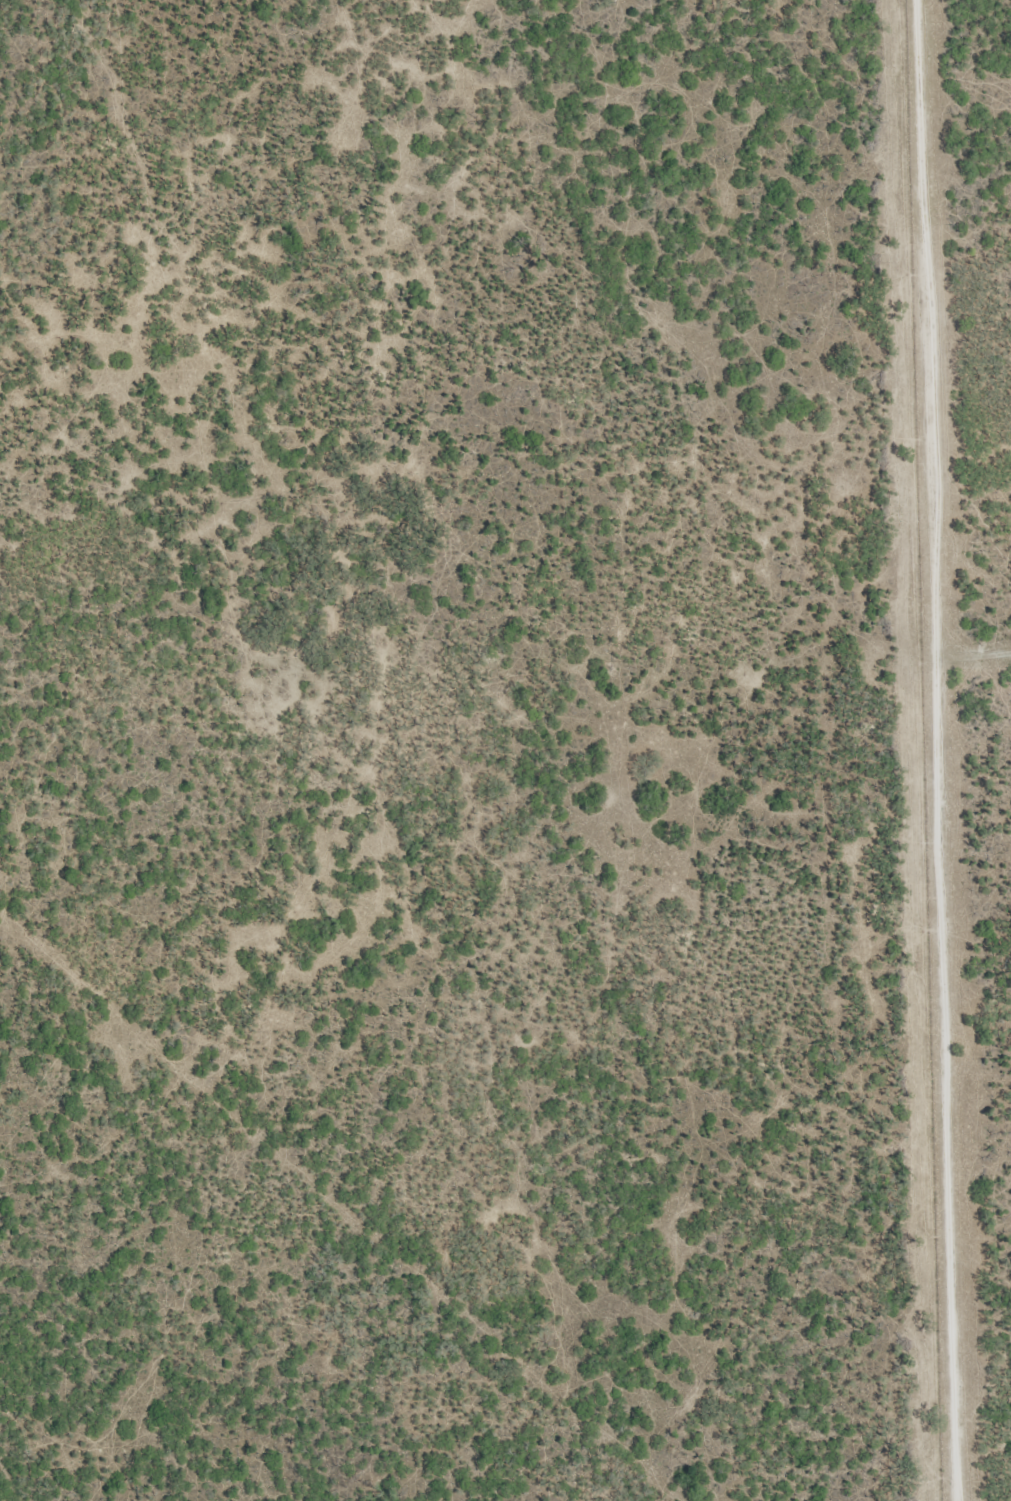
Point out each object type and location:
road: (970, 750)
road: (994, 1046)

